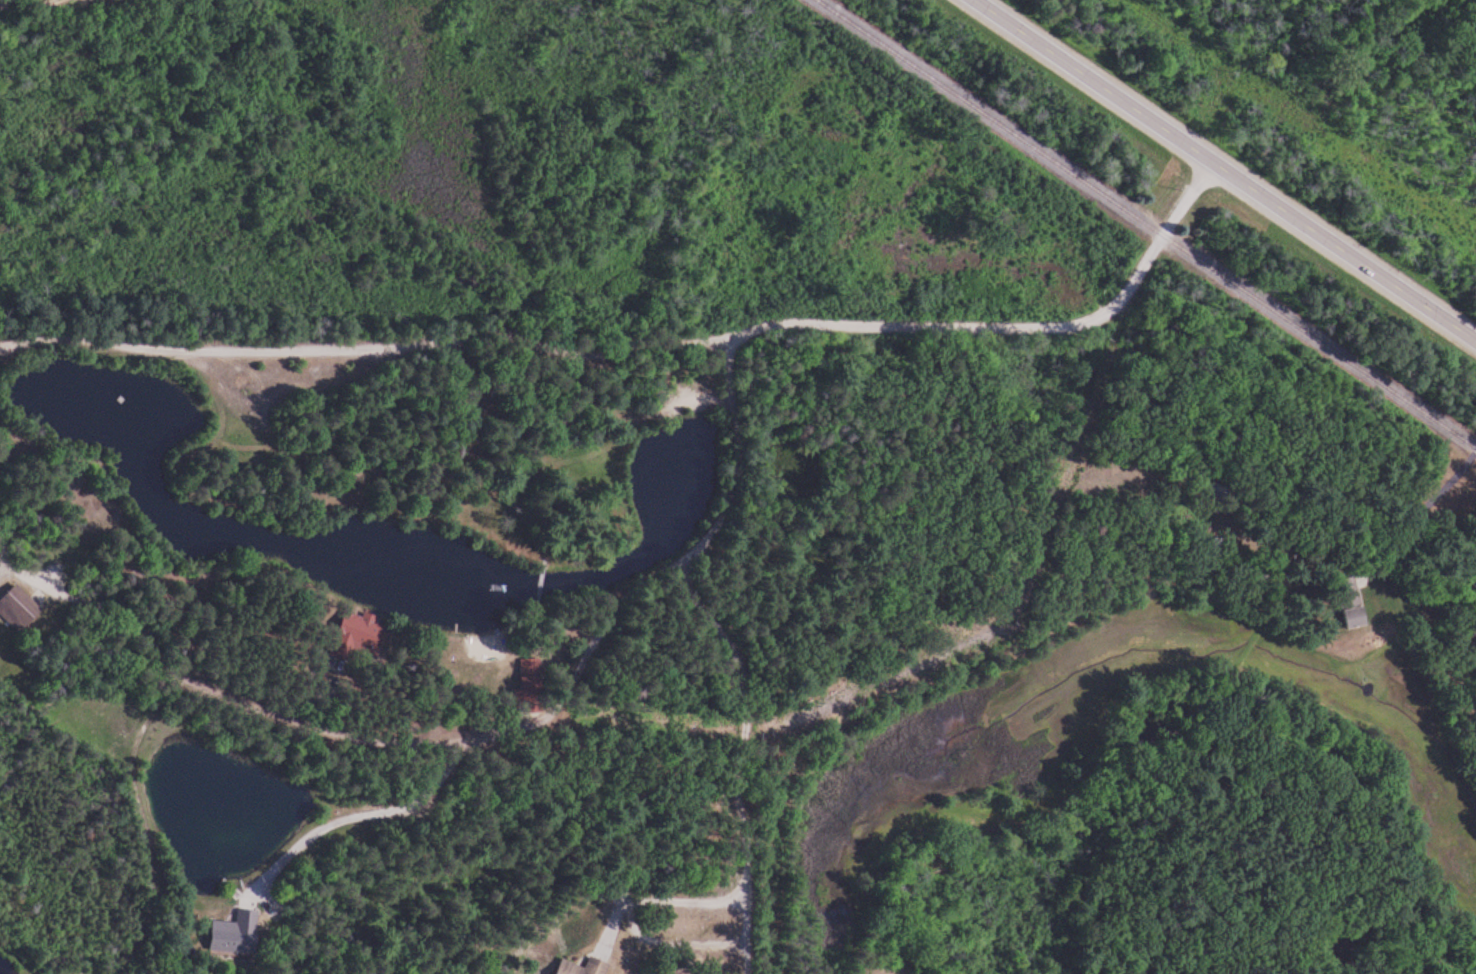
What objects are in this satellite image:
road: (1225, 170)
railway: (1139, 225)
road: (729, 433)
building: (1353, 601)
building: (19, 608)
building: (363, 633)
building: (531, 674)
road: (477, 739)
building: (237, 934)
building: (585, 967)

